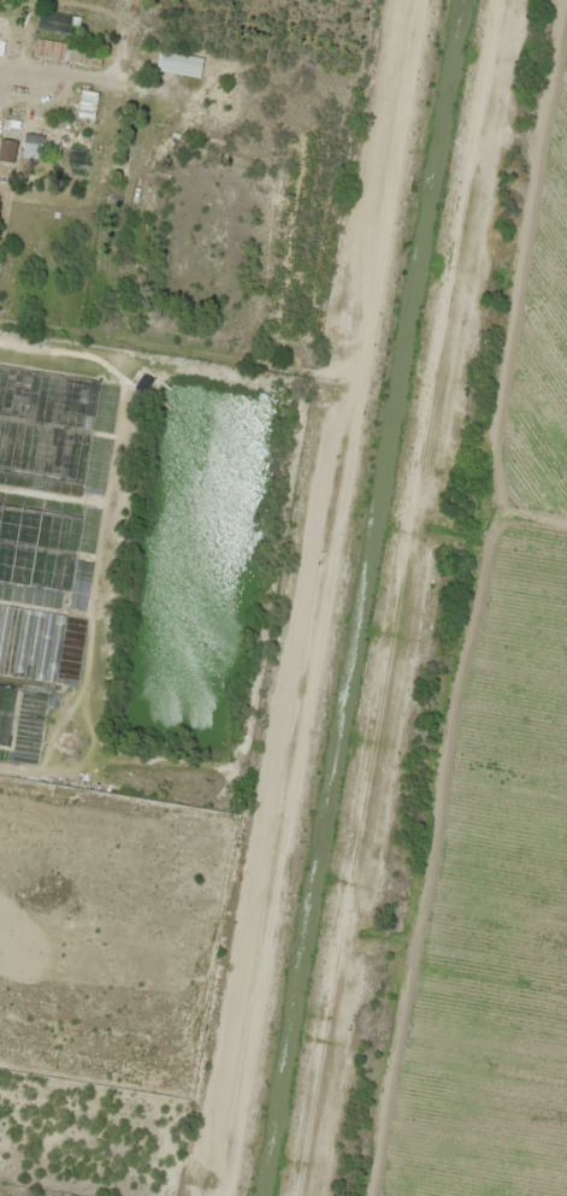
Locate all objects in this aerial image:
building: (54, 22)
building: (69, 53)
building: (179, 64)
building: (88, 106)
building: (33, 147)
building: (7, 151)
building: (43, 434)
building: (37, 547)
building: (30, 641)
building: (5, 712)

